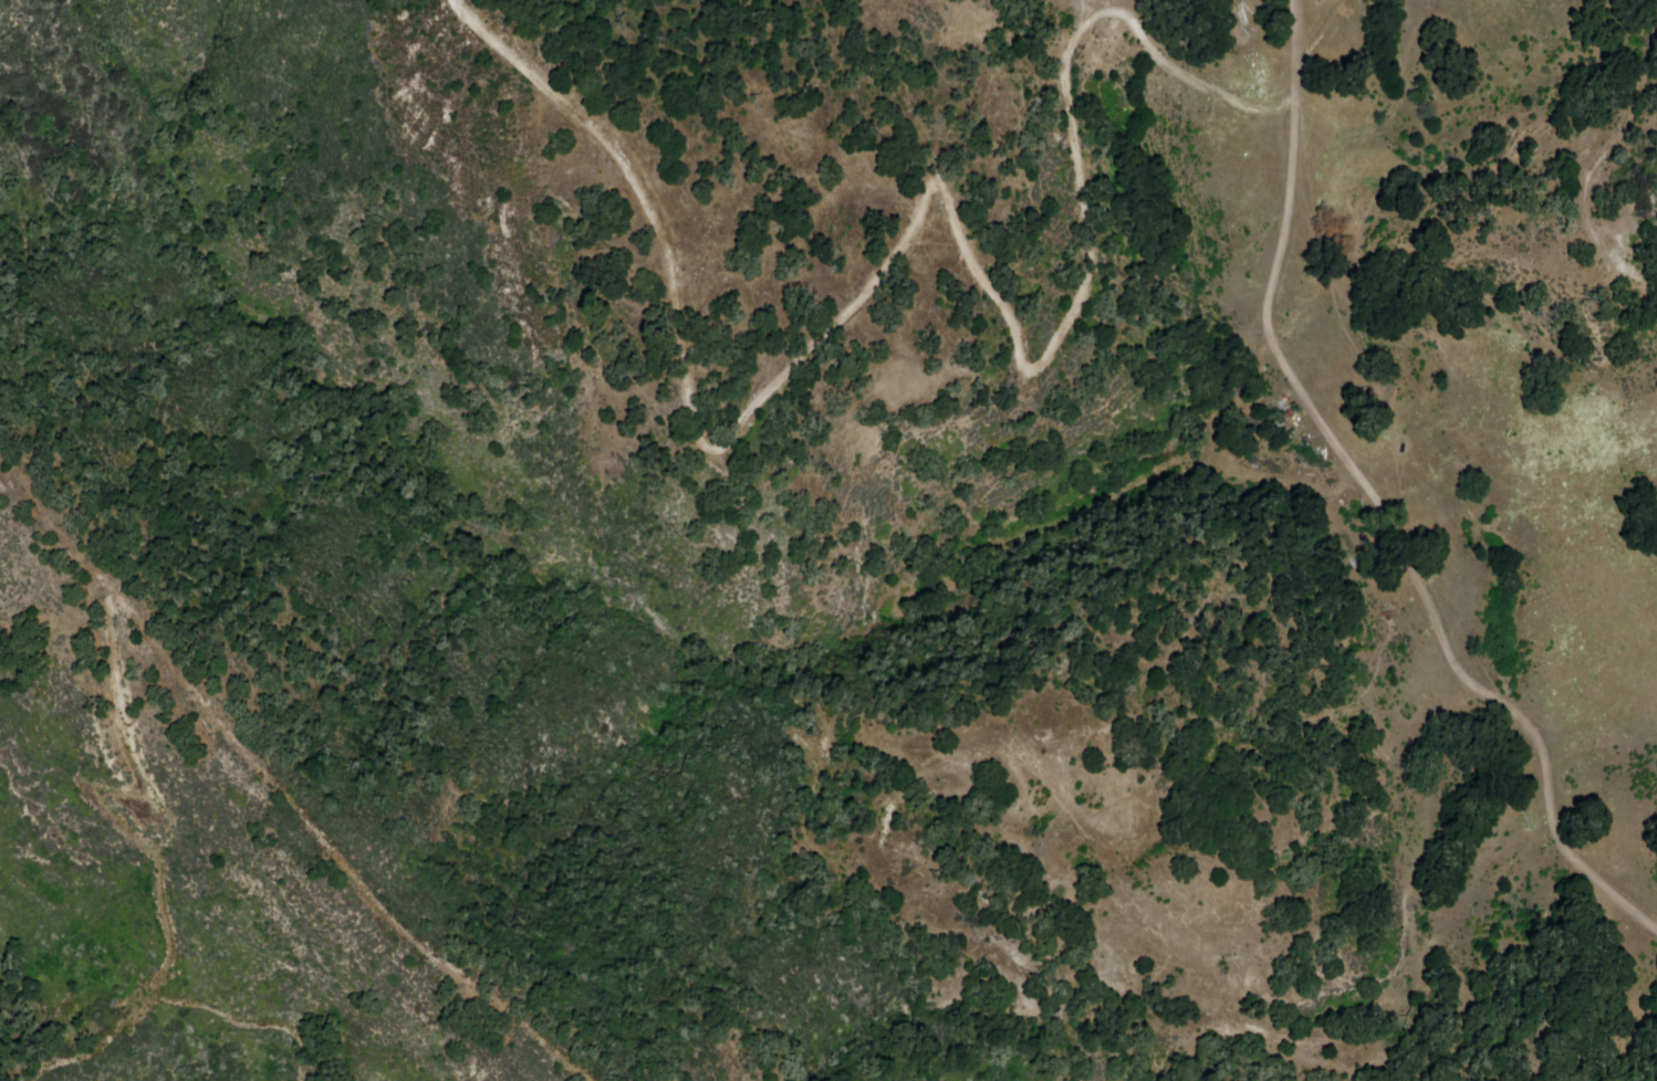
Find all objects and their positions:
road: (263, 804)

